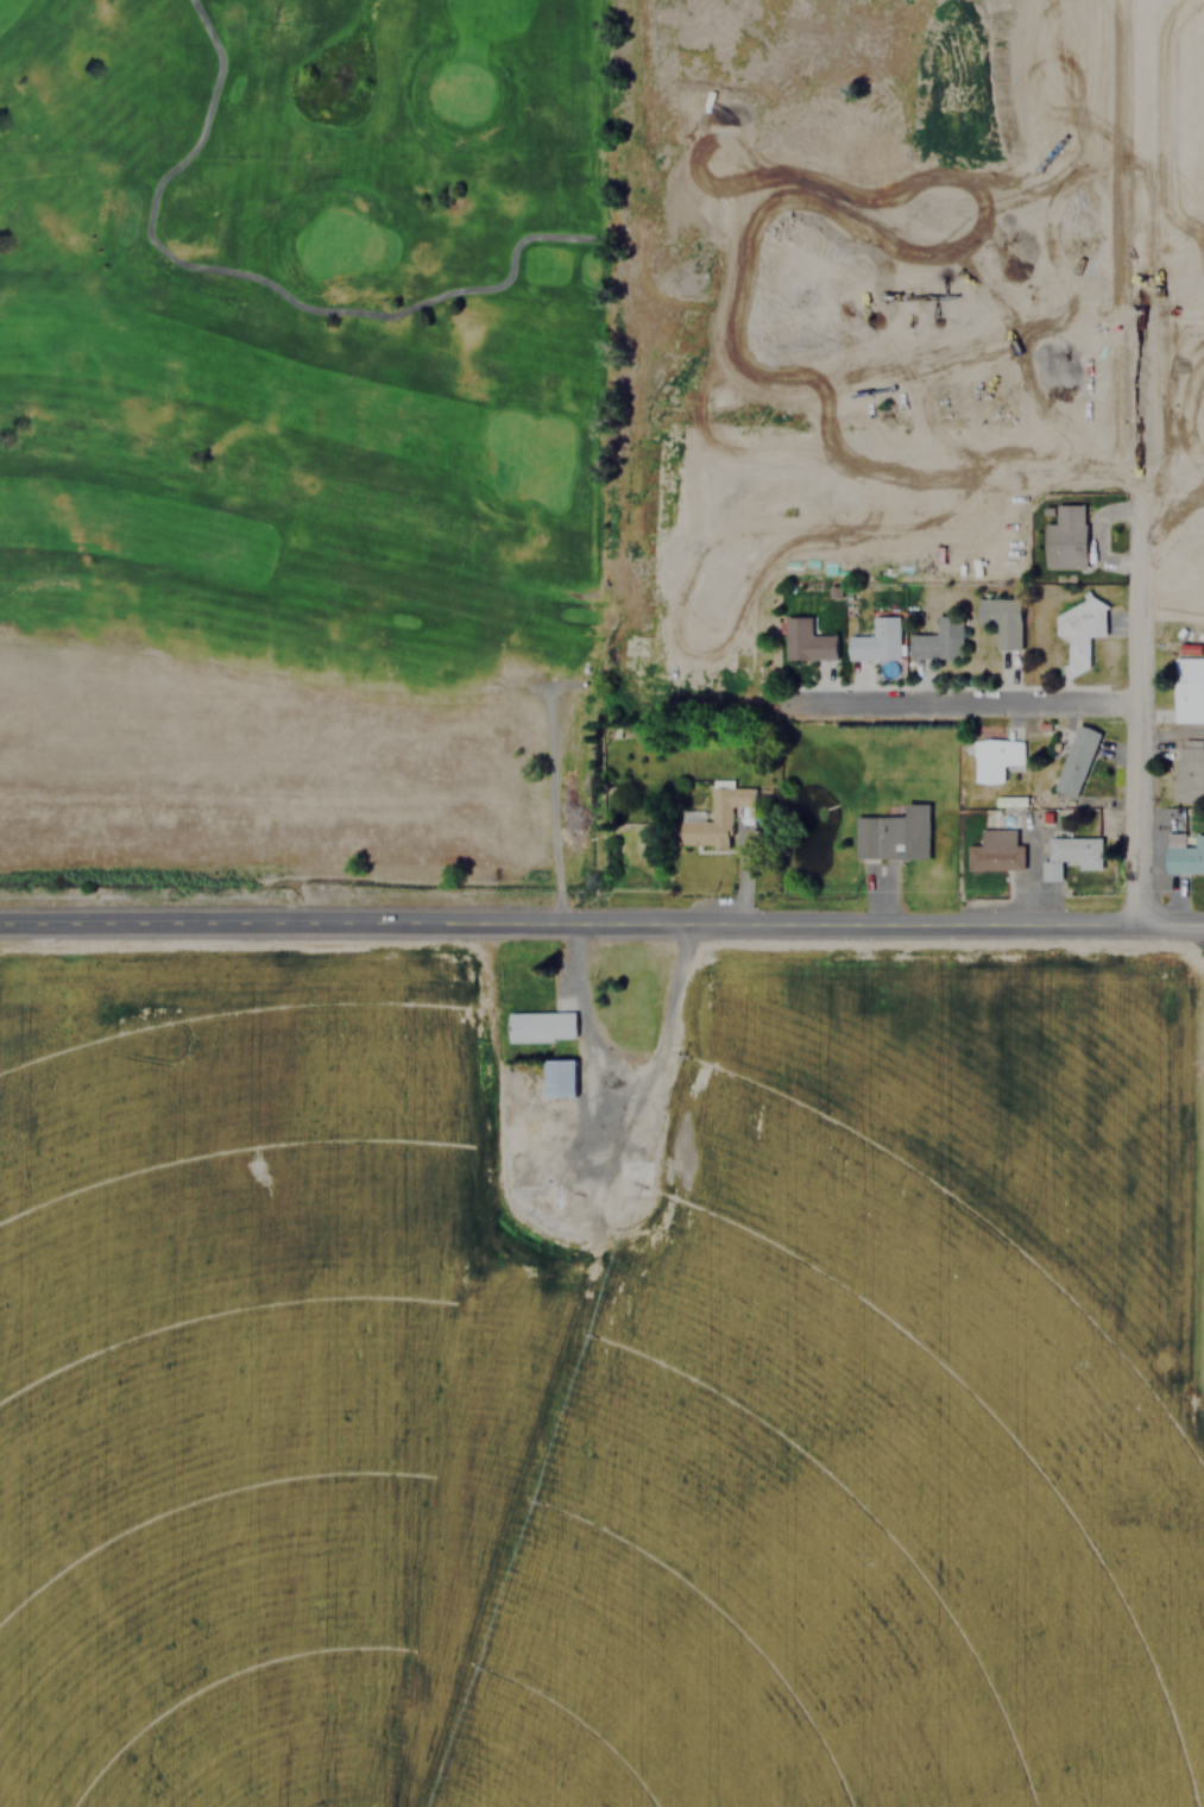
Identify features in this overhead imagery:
building: (1111, 225)
park: (307, 453)
building: (1065, 536)
road: (1140, 618)
building: (1001, 619)
building: (1078, 632)
building: (876, 640)
building: (938, 640)
building: (806, 641)
building: (1187, 688)
road: (967, 704)
building: (994, 758)
building: (1074, 761)
building: (1189, 769)
building: (718, 817)
building: (902, 832)
building: (995, 851)
building: (1072, 852)
building: (1184, 852)
road: (572, 927)
road: (1173, 927)
building: (540, 1026)
crop: (899, 1068)
building: (557, 1077)
crop: (555, 1428)

